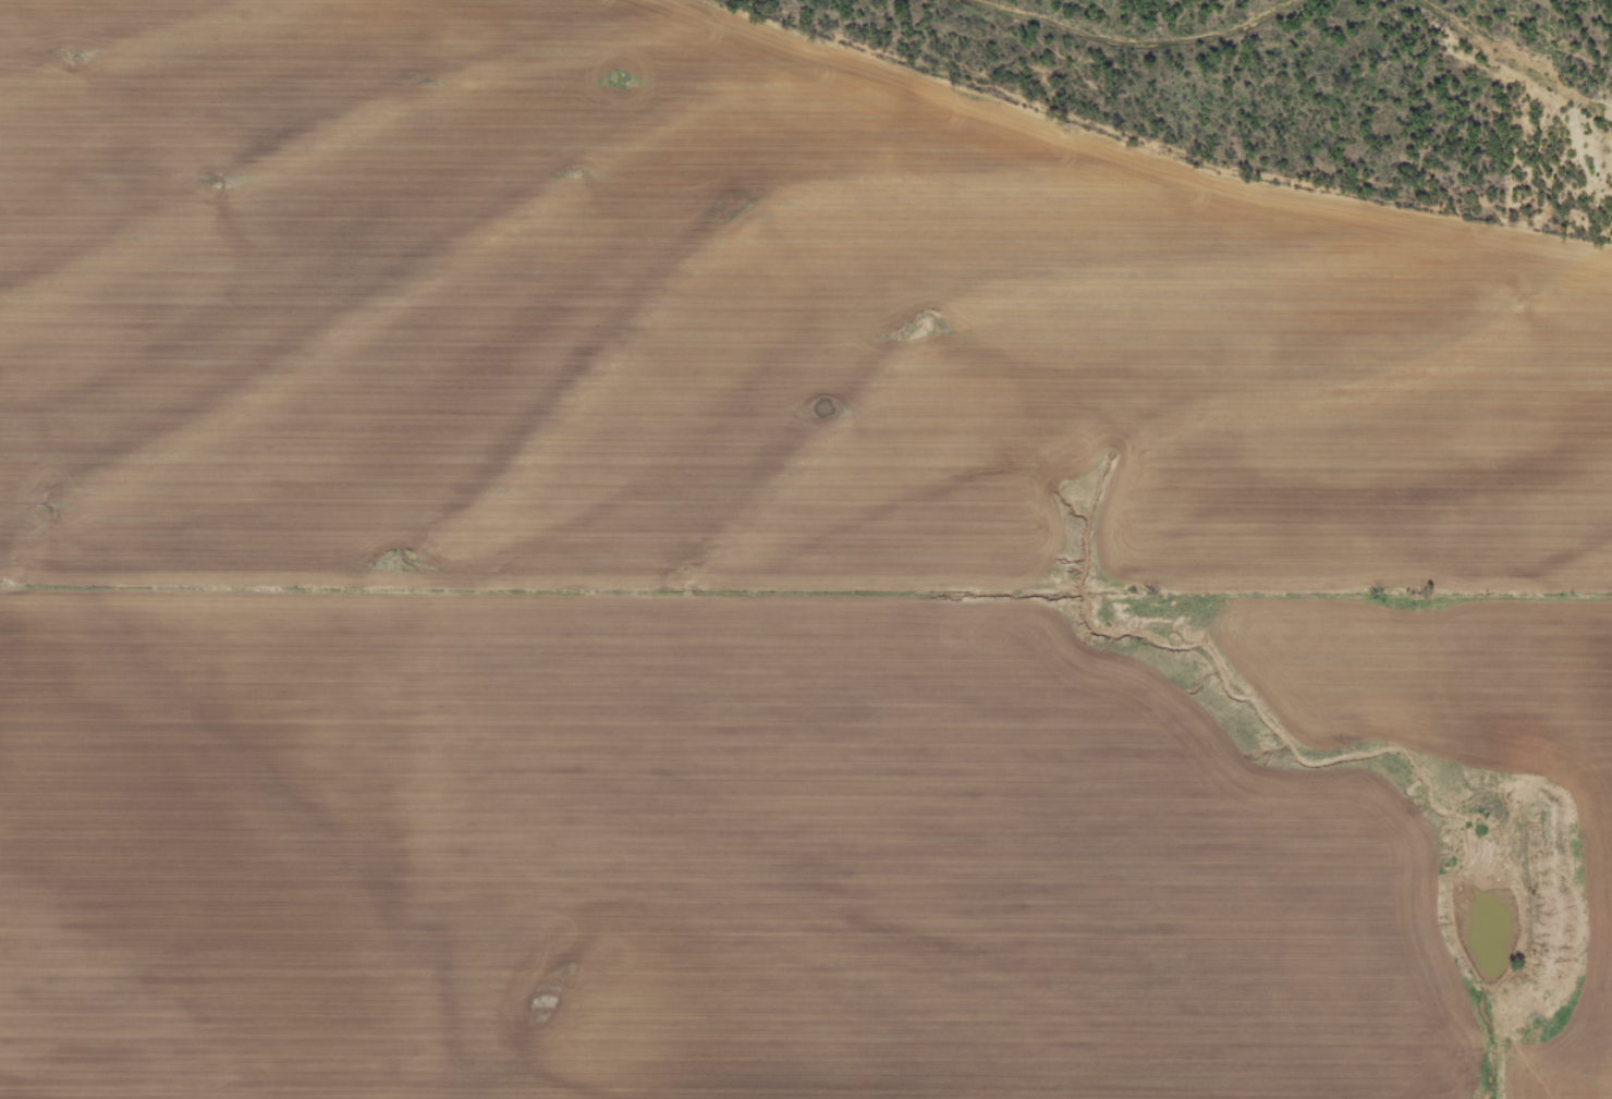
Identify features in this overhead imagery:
road: (1528, 1058)

